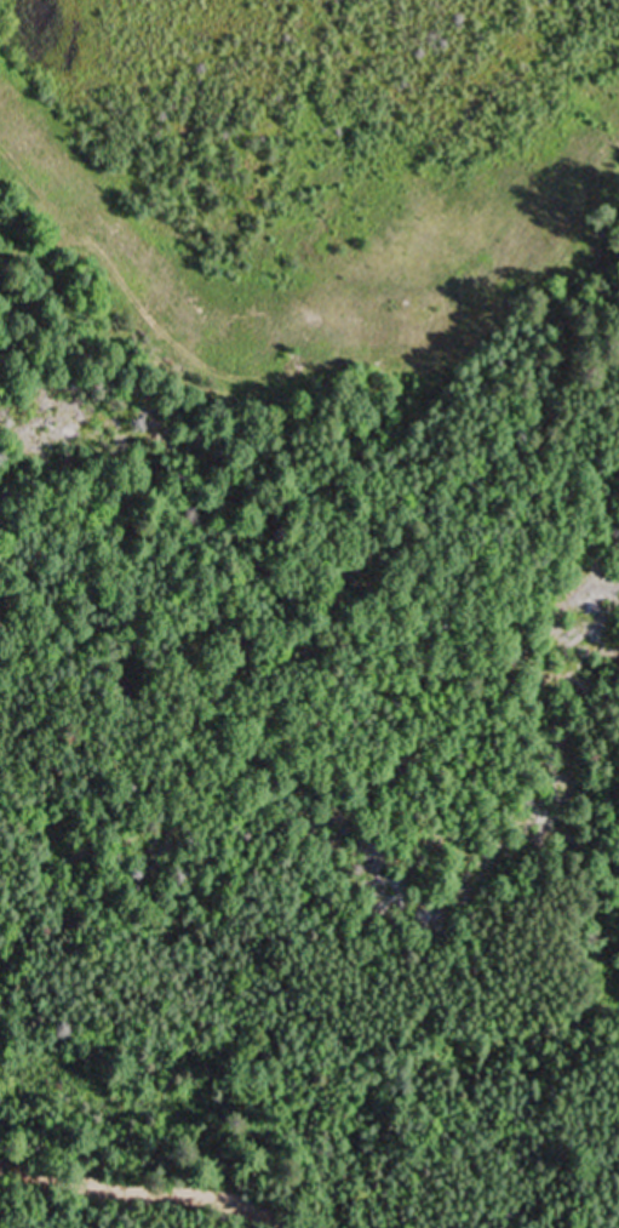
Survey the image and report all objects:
road: (56, 216)
road: (148, 1193)

